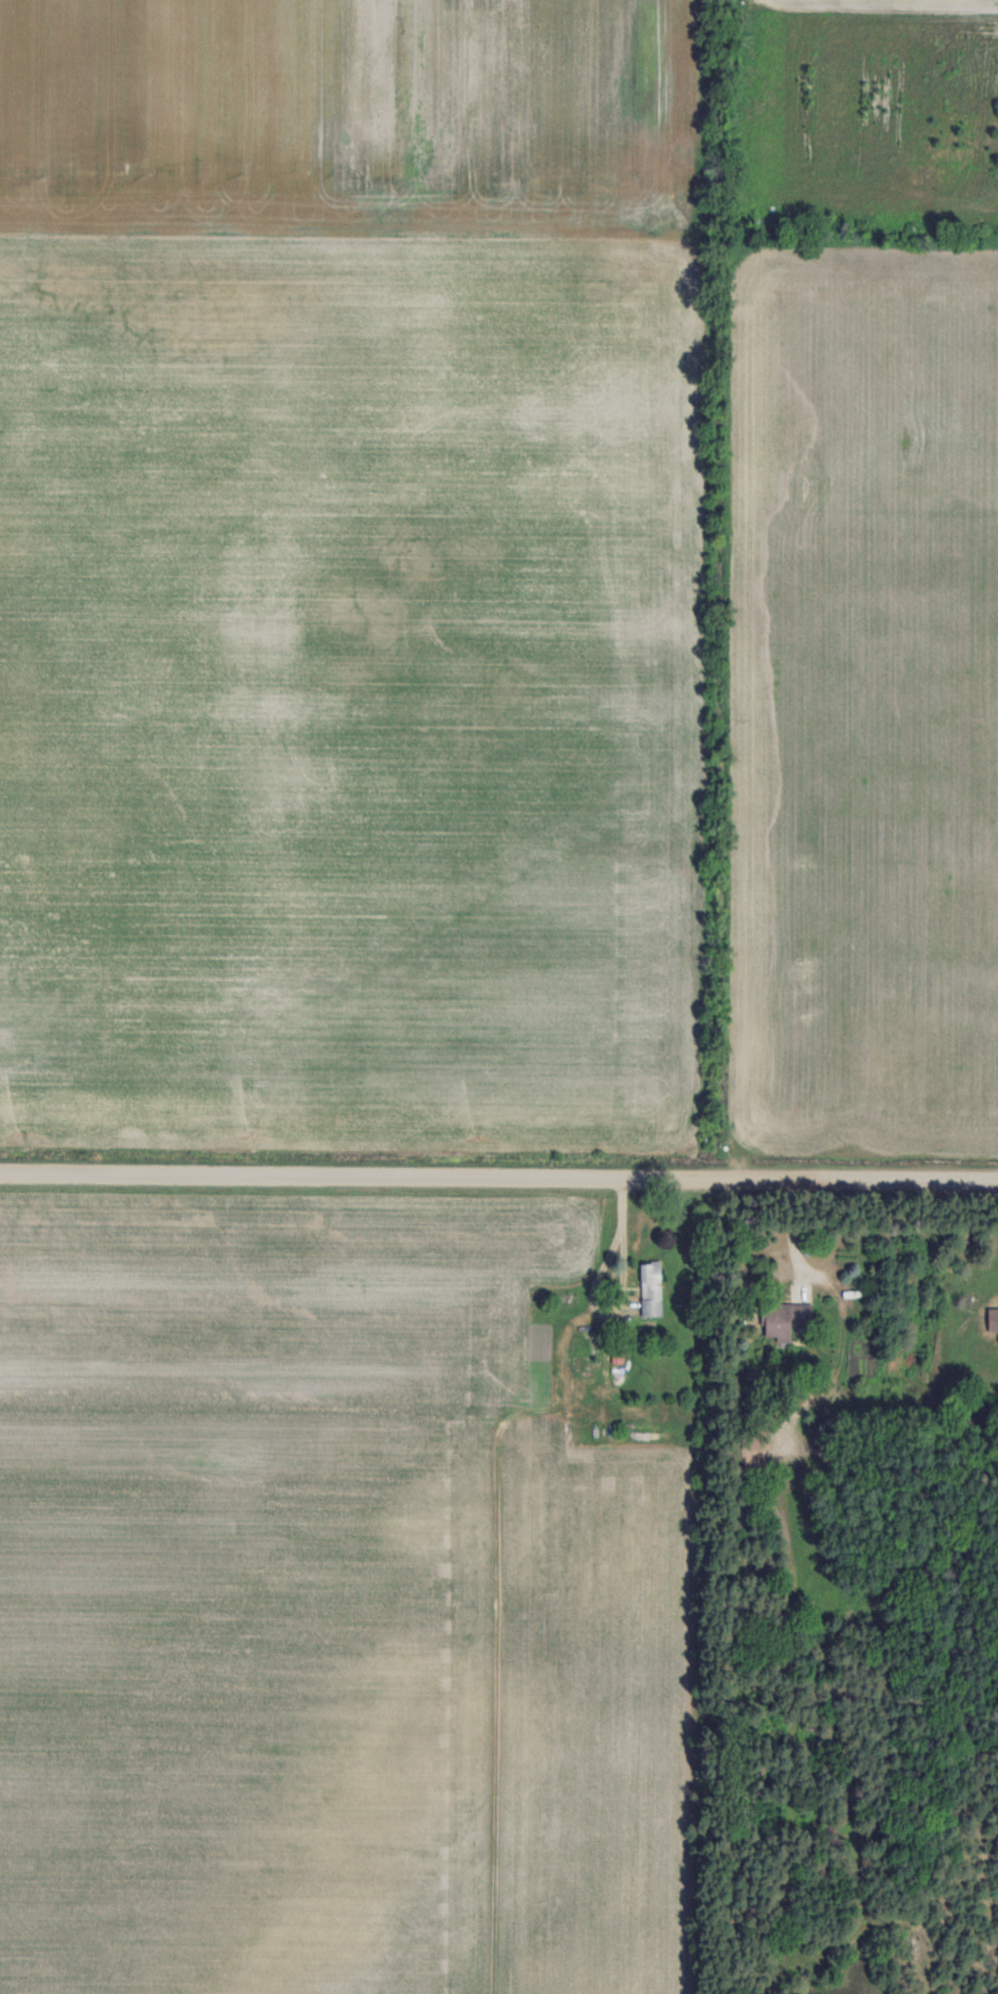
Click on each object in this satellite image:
road: (499, 1178)
building: (651, 1288)
building: (782, 1318)
building: (992, 1319)
building: (752, 1448)

